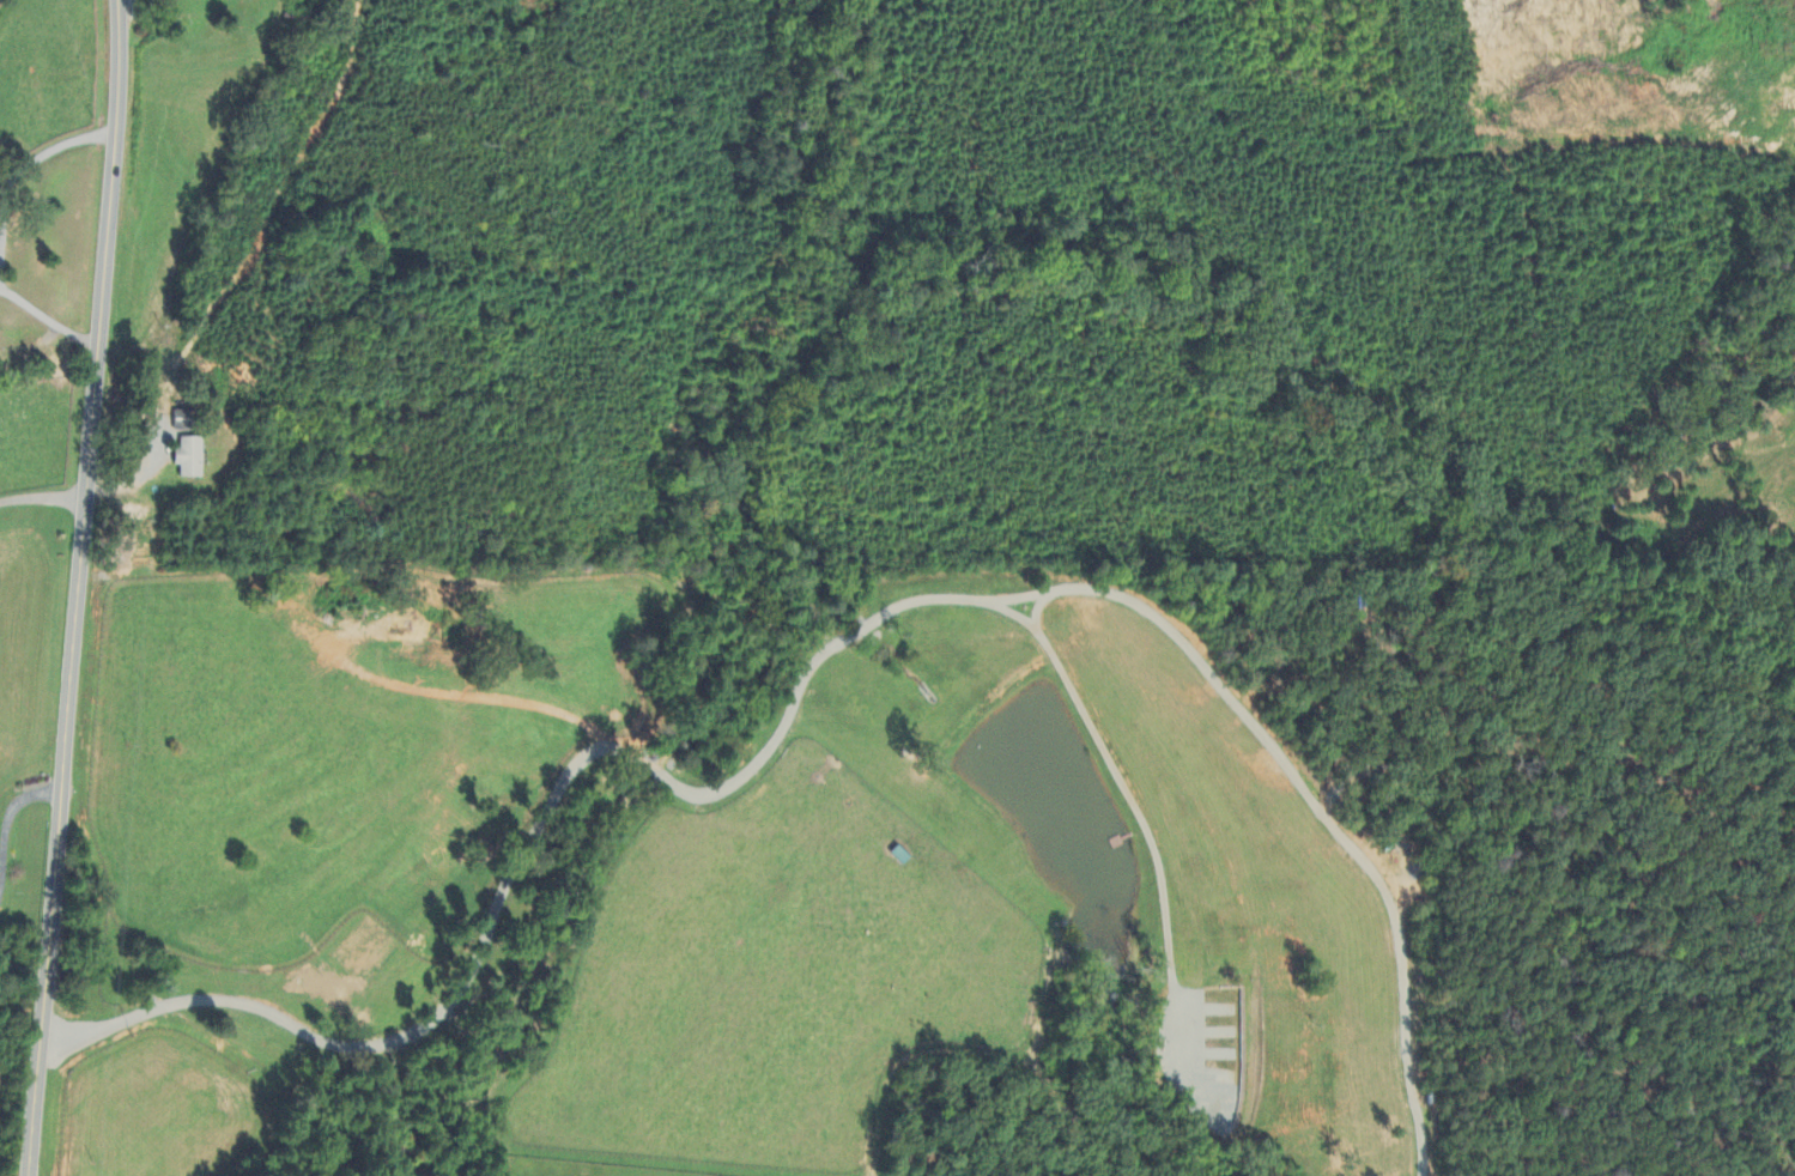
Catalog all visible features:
road: (2, 232)
building: (186, 459)
road: (44, 496)
road: (80, 588)
road: (7, 822)
building: (1223, 1056)

